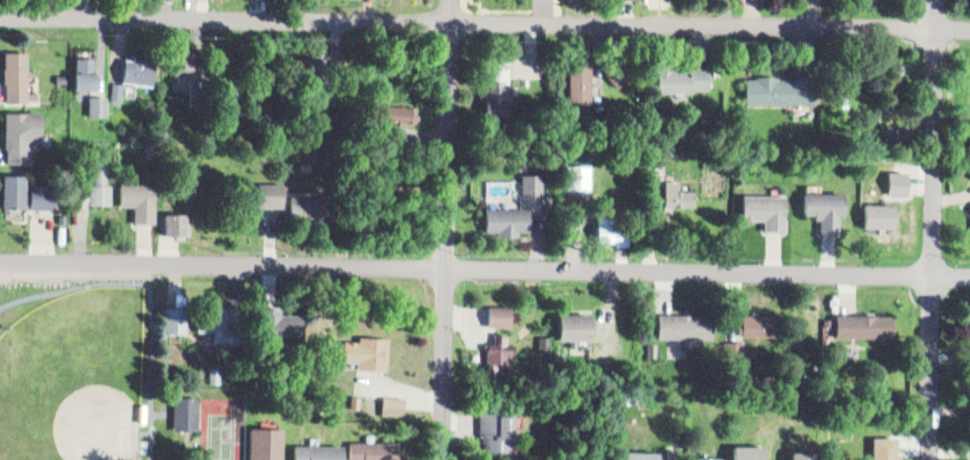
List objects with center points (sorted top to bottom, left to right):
road: (484, 22)
building: (179, 58)
building: (134, 66)
building: (80, 67)
building: (12, 72)
building: (59, 72)
building: (893, 72)
building: (683, 77)
building: (495, 81)
building: (112, 85)
building: (581, 85)
building: (781, 88)
building: (93, 101)
building: (399, 110)
building: (16, 129)
building: (578, 175)
building: (96, 177)
building: (533, 181)
building: (969, 182)
building: (8, 187)
building: (37, 189)
building: (678, 194)
building: (136, 195)
building: (280, 196)
building: (825, 207)
building: (766, 208)
building: (171, 219)
building: (508, 219)
building: (613, 227)
road: (444, 229)
road: (934, 229)
road: (484, 270)
building: (500, 313)
building: (170, 314)
building: (209, 318)
building: (272, 322)
building: (758, 322)
building: (864, 322)
building: (576, 323)
building: (685, 323)
building: (365, 347)
building: (499, 347)
building: (653, 347)
park: (71, 375)
park: (99, 379)
building: (354, 396)
building: (393, 396)
building: (394, 406)
building: (181, 407)
park: (219, 427)
building: (496, 428)
building: (261, 440)
building: (371, 446)
building: (885, 447)
building: (314, 449)
building: (750, 451)
building: (641, 454)
building: (812, 454)
building: (712, 457)
building: (965, 458)

